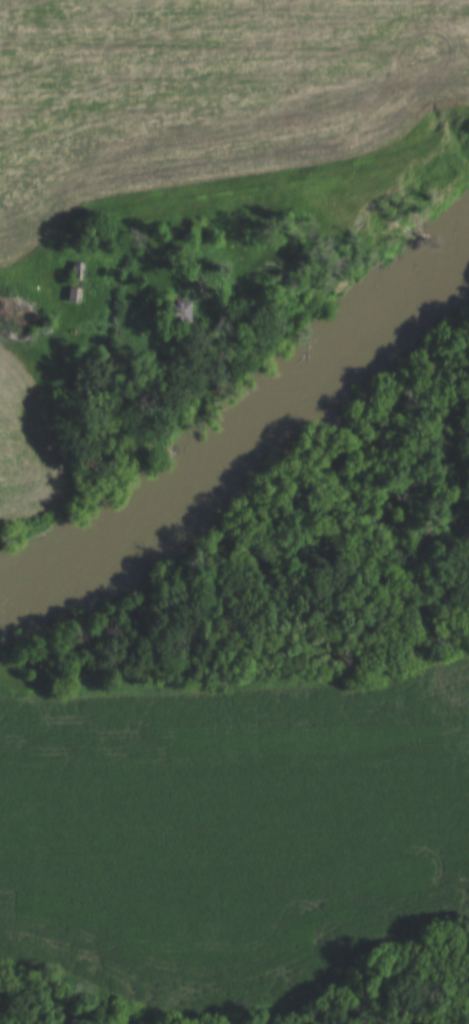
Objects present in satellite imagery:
road: (276, 181)
building: (73, 272)
building: (70, 293)
building: (170, 313)
river: (238, 428)

